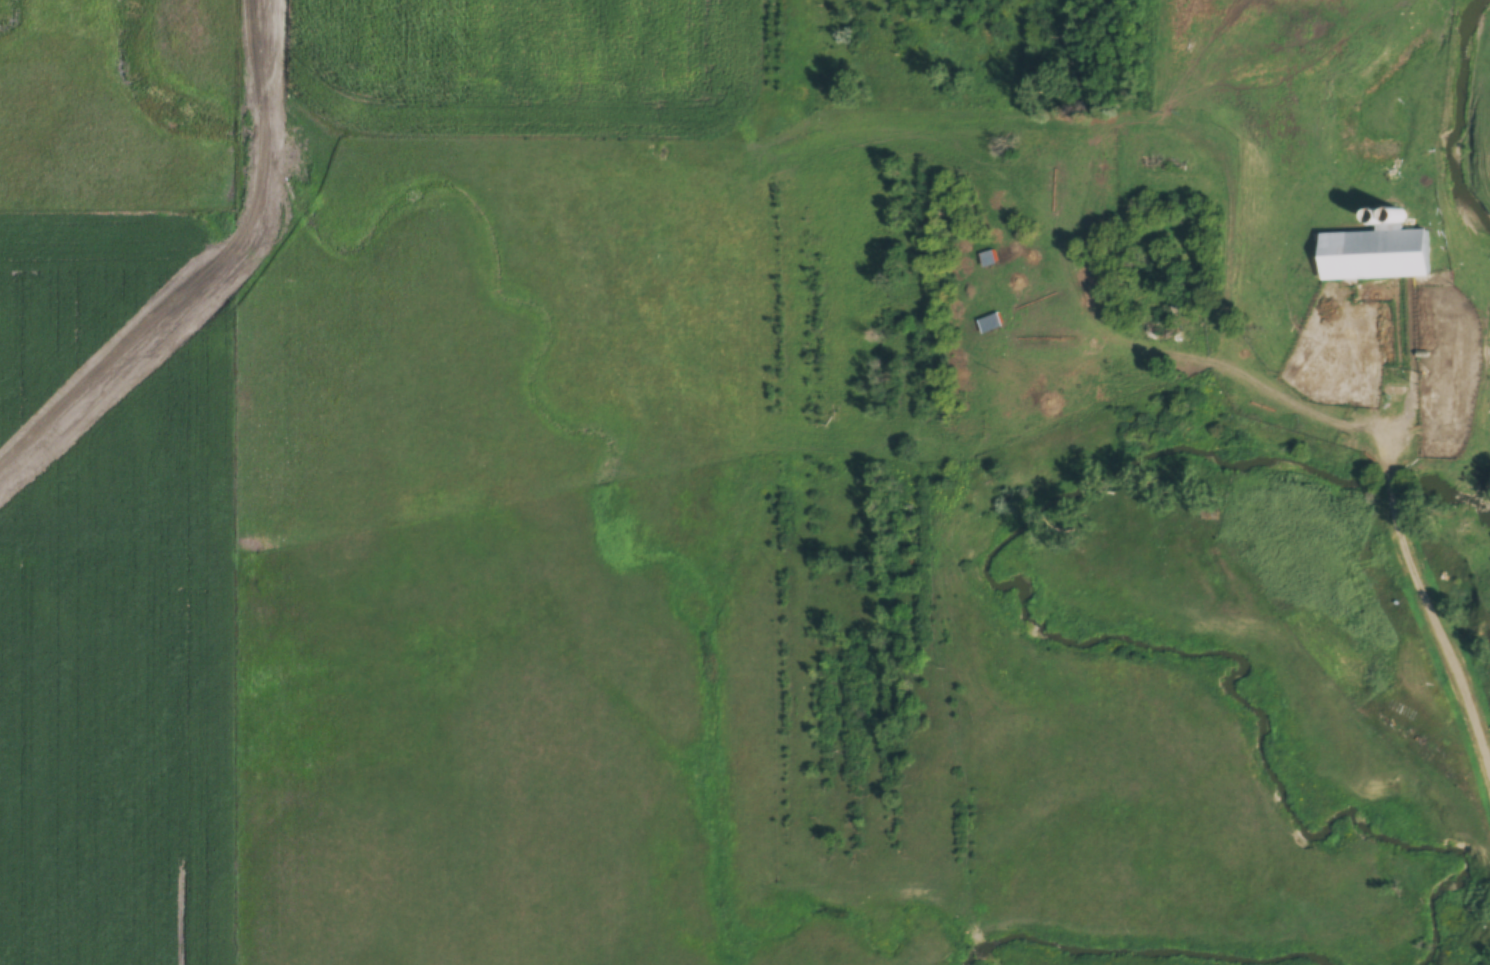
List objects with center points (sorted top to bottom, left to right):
building: (1374, 255)
road: (1391, 479)

